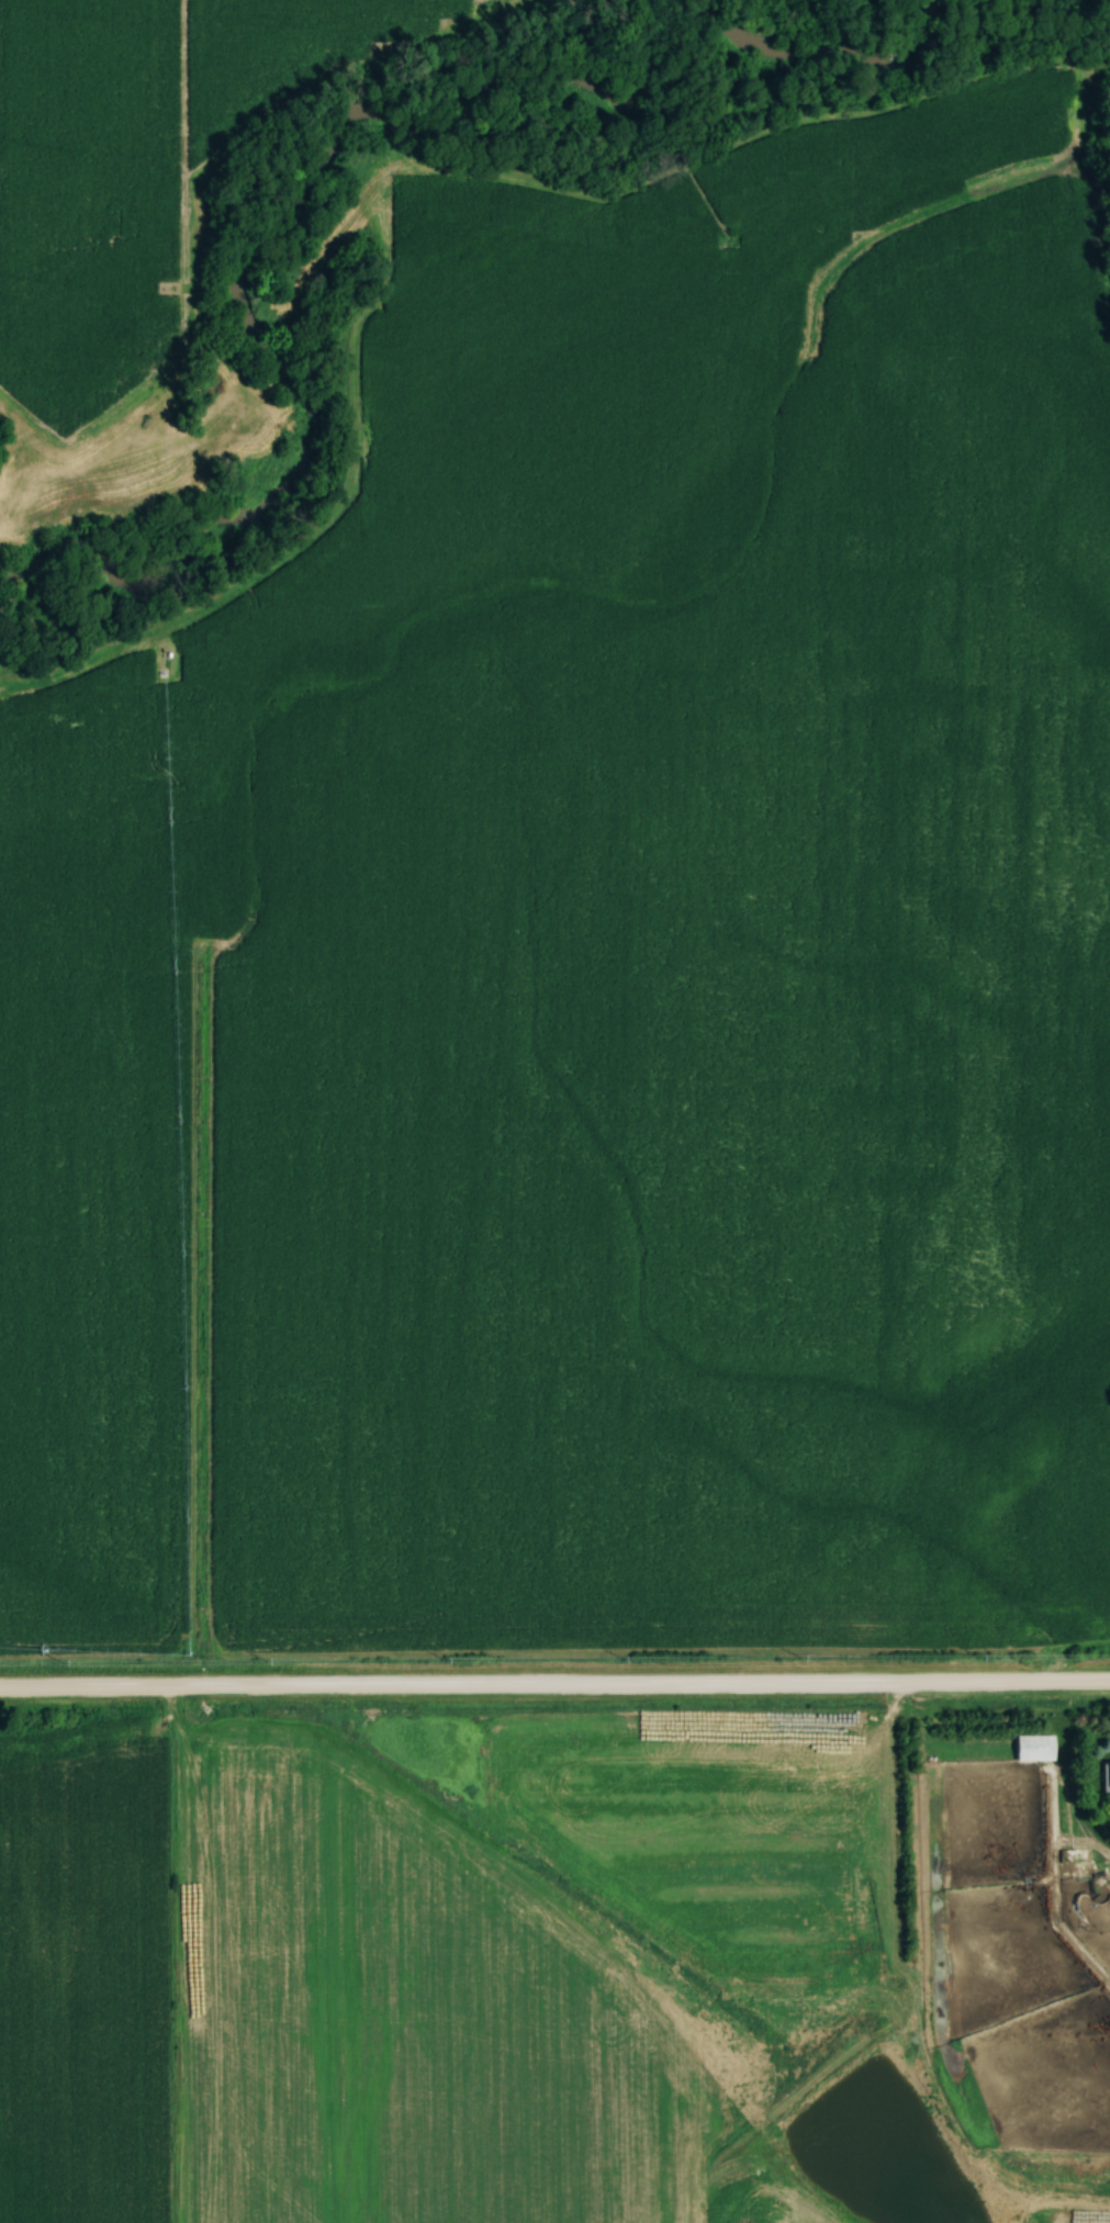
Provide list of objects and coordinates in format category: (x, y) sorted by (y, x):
road: (554, 1686)
building: (1034, 1747)
building: (1107, 1776)

